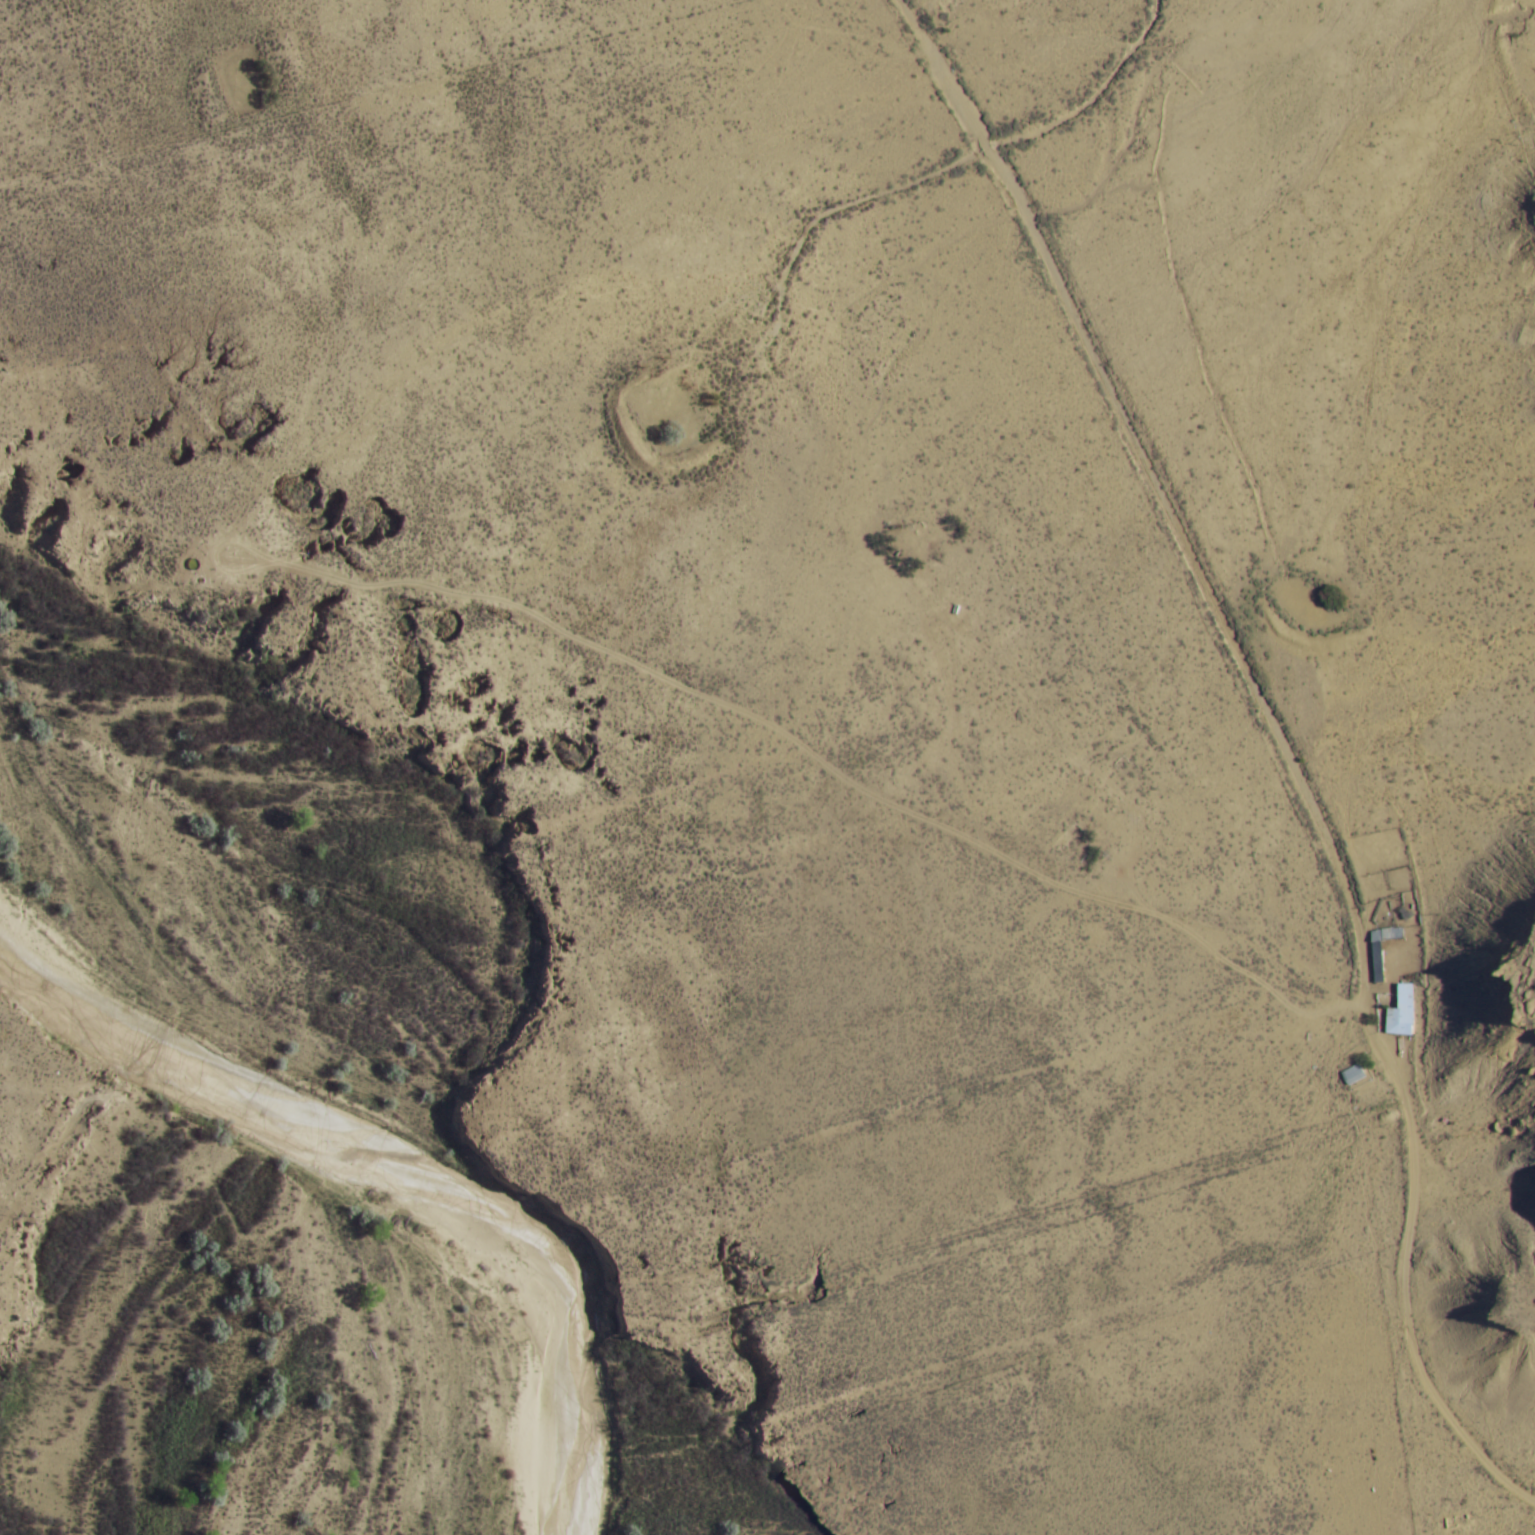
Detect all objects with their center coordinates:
road: (1280, 739)
building: (1379, 949)
building: (1398, 1012)
building: (1351, 1073)
river: (358, 1150)

